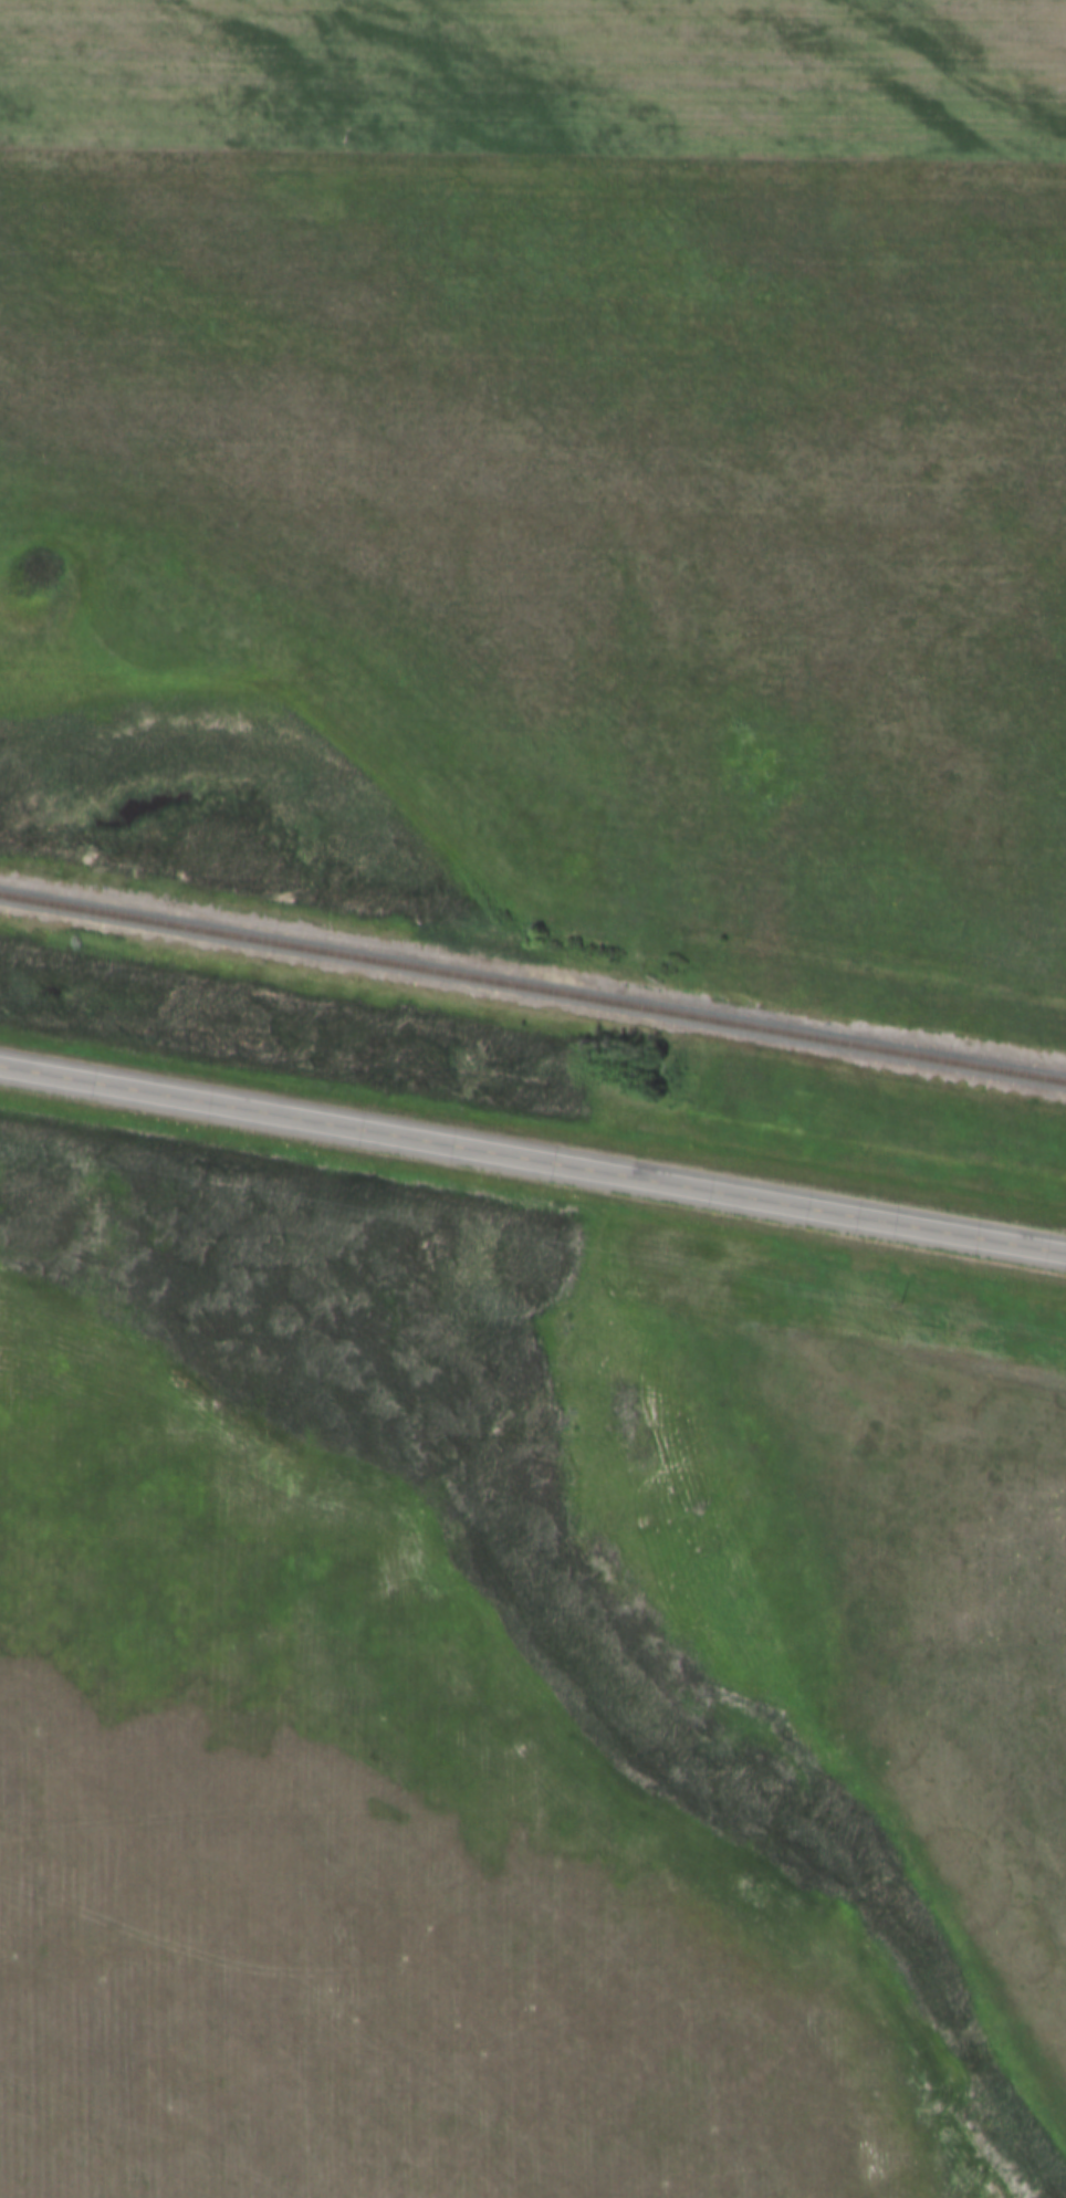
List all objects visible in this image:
railway: (533, 987)
road: (532, 1160)

